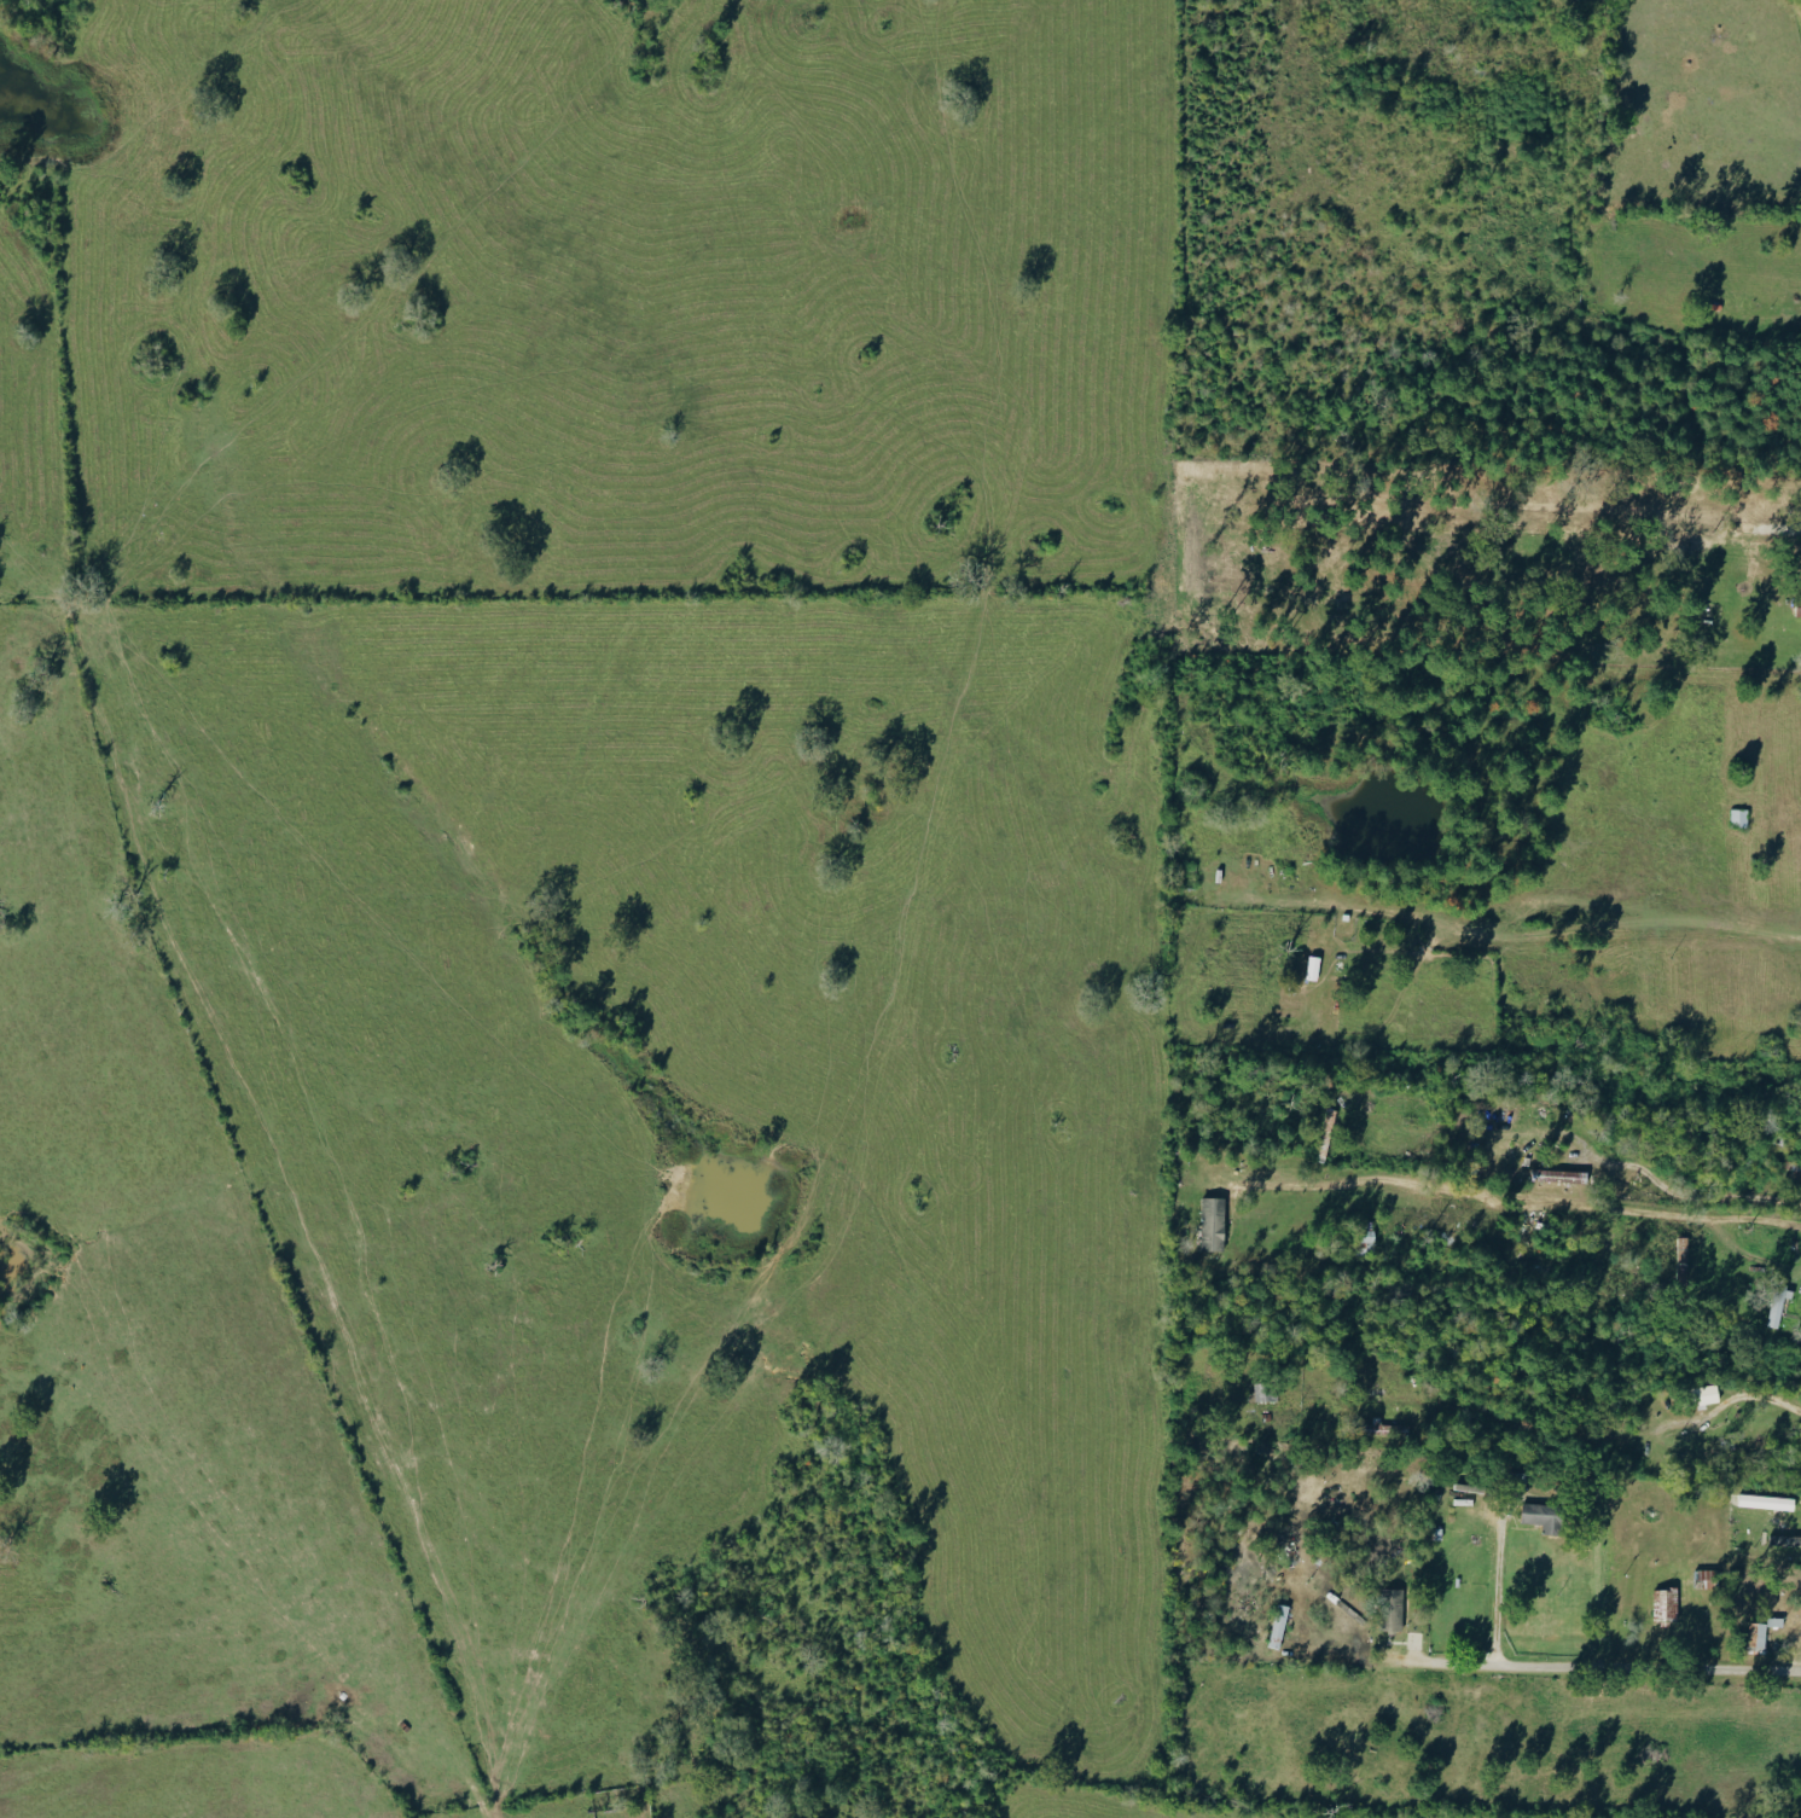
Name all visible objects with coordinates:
road: (1771, 316)
road: (1582, 503)
building: (1797, 606)
road: (1552, 895)
building: (1558, 1178)
road: (1541, 1208)
building: (1212, 1225)
building: (1364, 1236)
building: (1778, 1303)
building: (1706, 1394)
road: (1739, 1400)
building: (1765, 1502)
building: (1541, 1516)
road: (1497, 1596)
building: (1665, 1603)
building: (1390, 1609)
building: (1774, 1621)
building: (1278, 1626)
building: (1756, 1637)
road: (1546, 1665)

